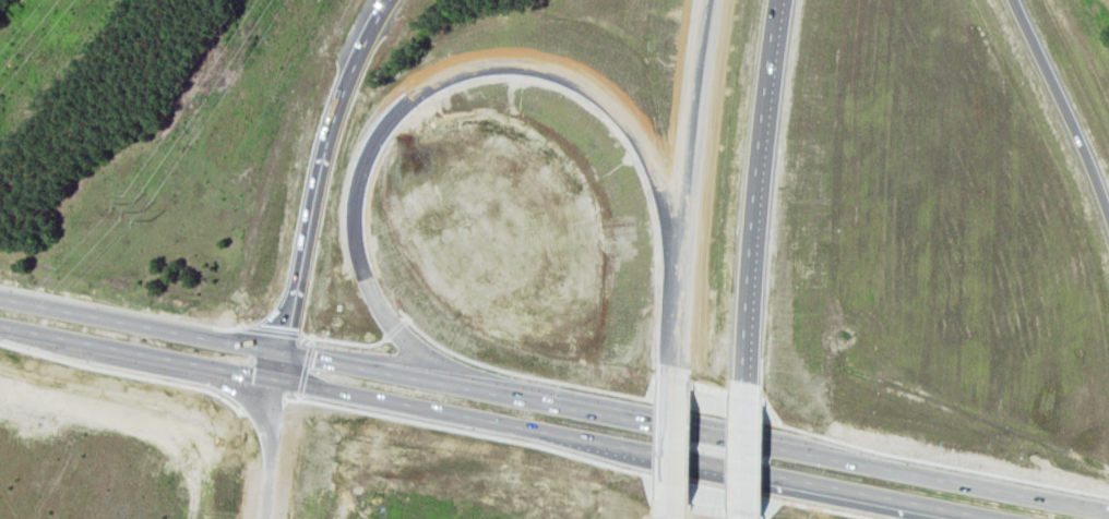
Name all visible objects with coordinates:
road: (429, 86)
road: (1063, 106)
road: (693, 164)
power tower: (148, 166)
road: (314, 170)
road: (754, 198)
road: (121, 310)
road: (140, 326)
traffic signals: (285, 326)
road: (390, 329)
road: (270, 330)
road: (35, 333)
road: (339, 341)
road: (681, 357)
traffic signals: (308, 359)
road: (172, 360)
road: (277, 366)
traffic signals: (228, 371)
road: (401, 376)
road: (455, 414)
road: (748, 419)
road: (649, 424)
road: (678, 443)
road: (266, 448)
road: (741, 455)
road: (768, 474)
road: (942, 480)
road: (922, 509)
road: (950, 509)
road: (677, 511)
road: (740, 516)

